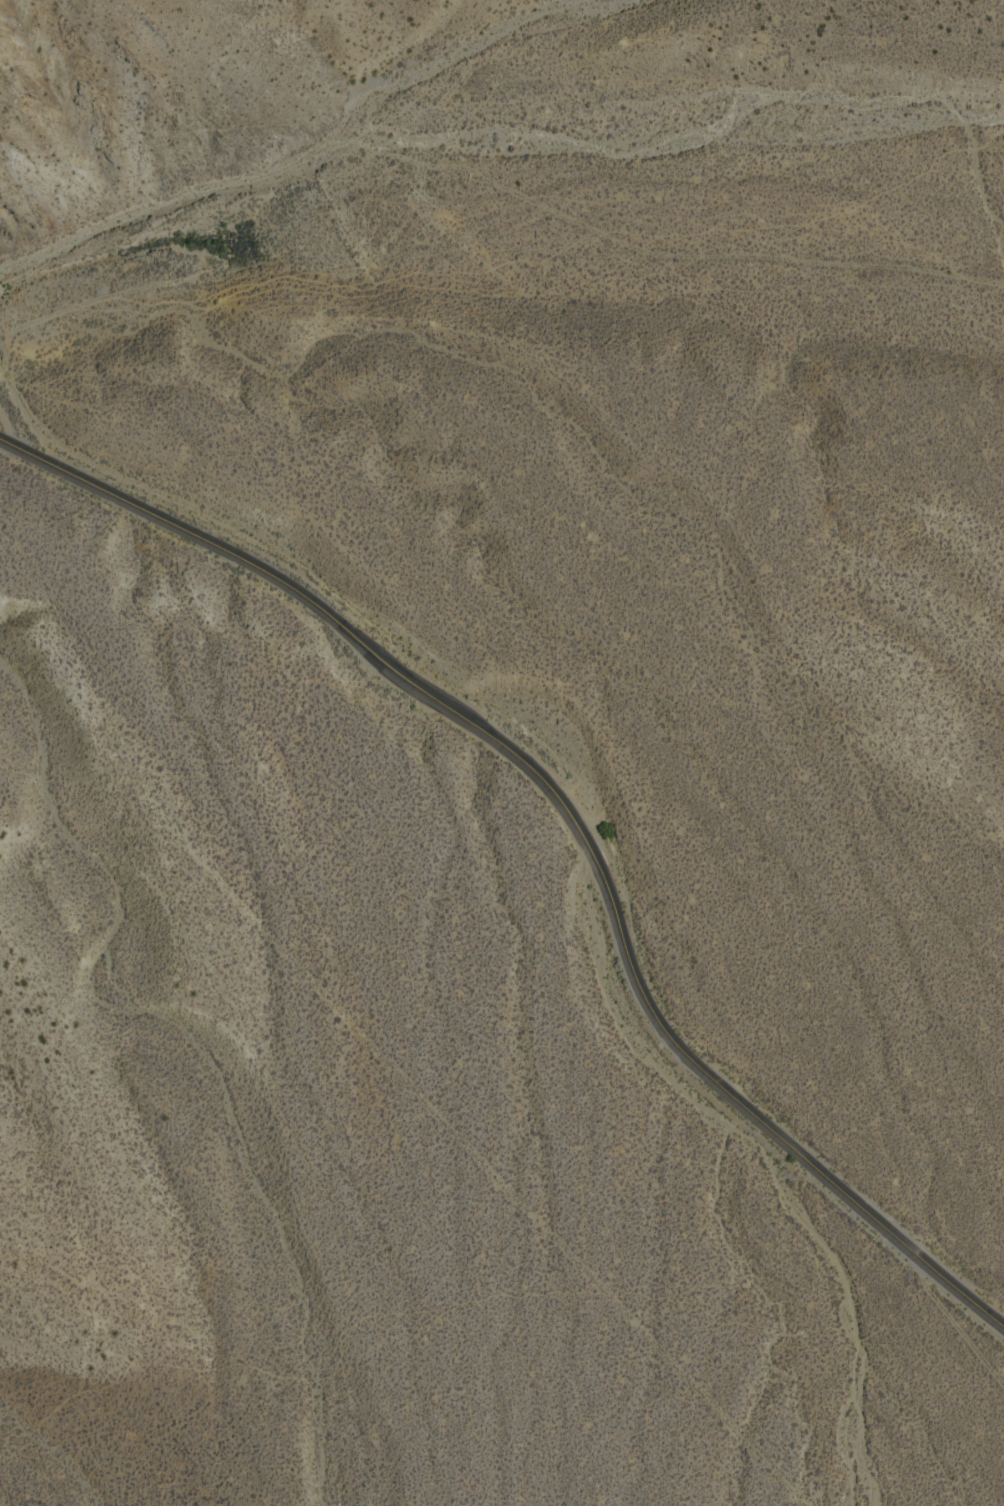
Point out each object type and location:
road: (412, 58)
road: (495, 183)
road: (87, 306)
road: (6, 427)
road: (521, 763)
road: (950, 1280)
road: (948, 1312)

